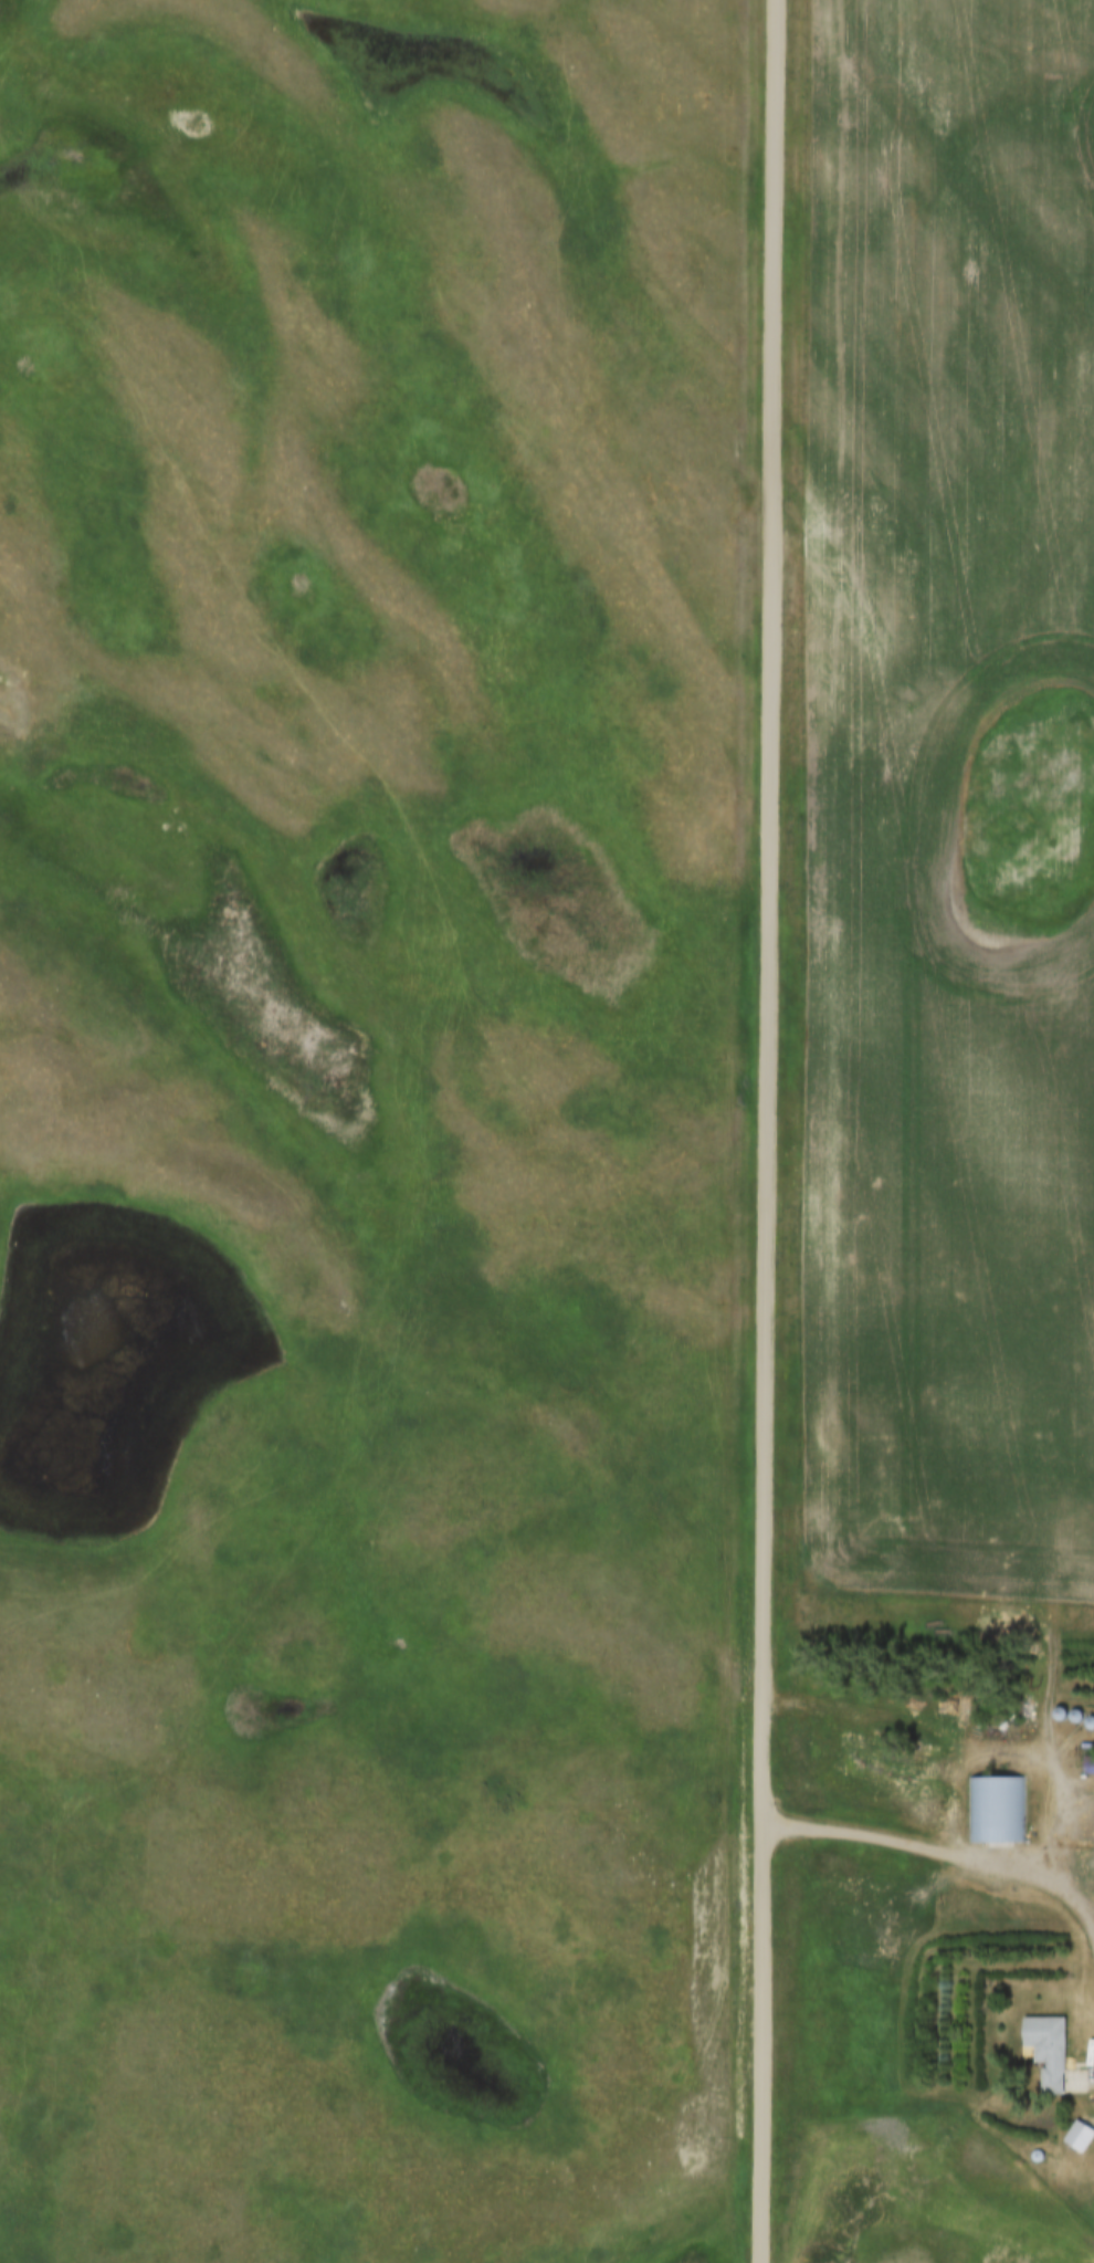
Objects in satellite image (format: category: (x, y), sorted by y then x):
road: (775, 1131)
building: (1088, 1764)
building: (996, 1810)
road: (943, 1852)
building: (1048, 2050)

